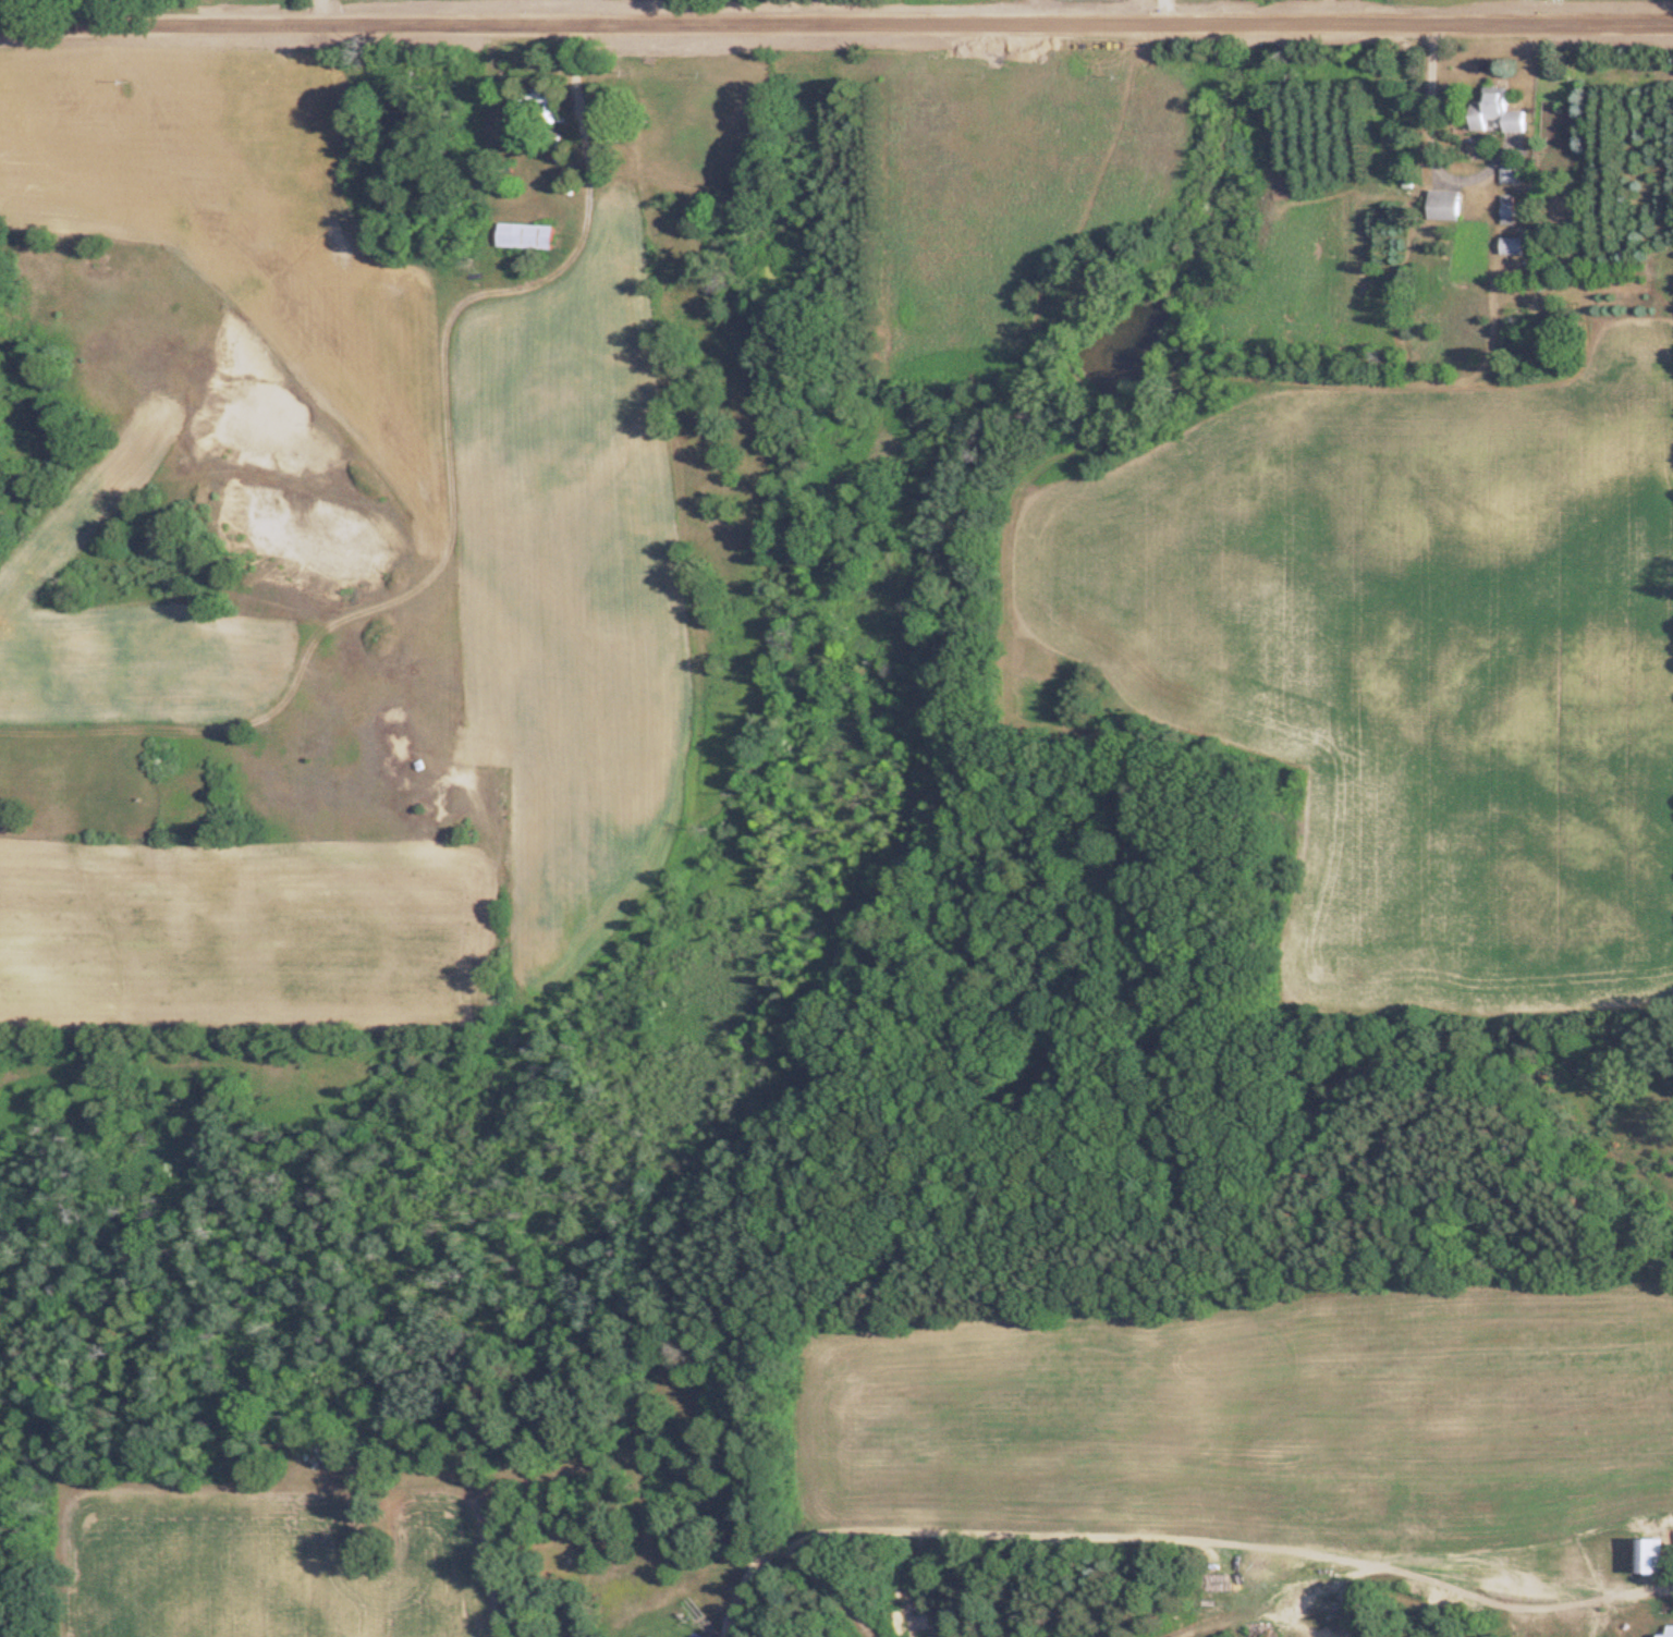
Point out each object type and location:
road: (1167, 9)
road: (836, 19)
building: (1492, 115)
road: (1429, 139)
road: (586, 195)
building: (1440, 207)
building: (1504, 210)
building: (521, 236)
building: (1506, 246)
building: (651, 1636)

